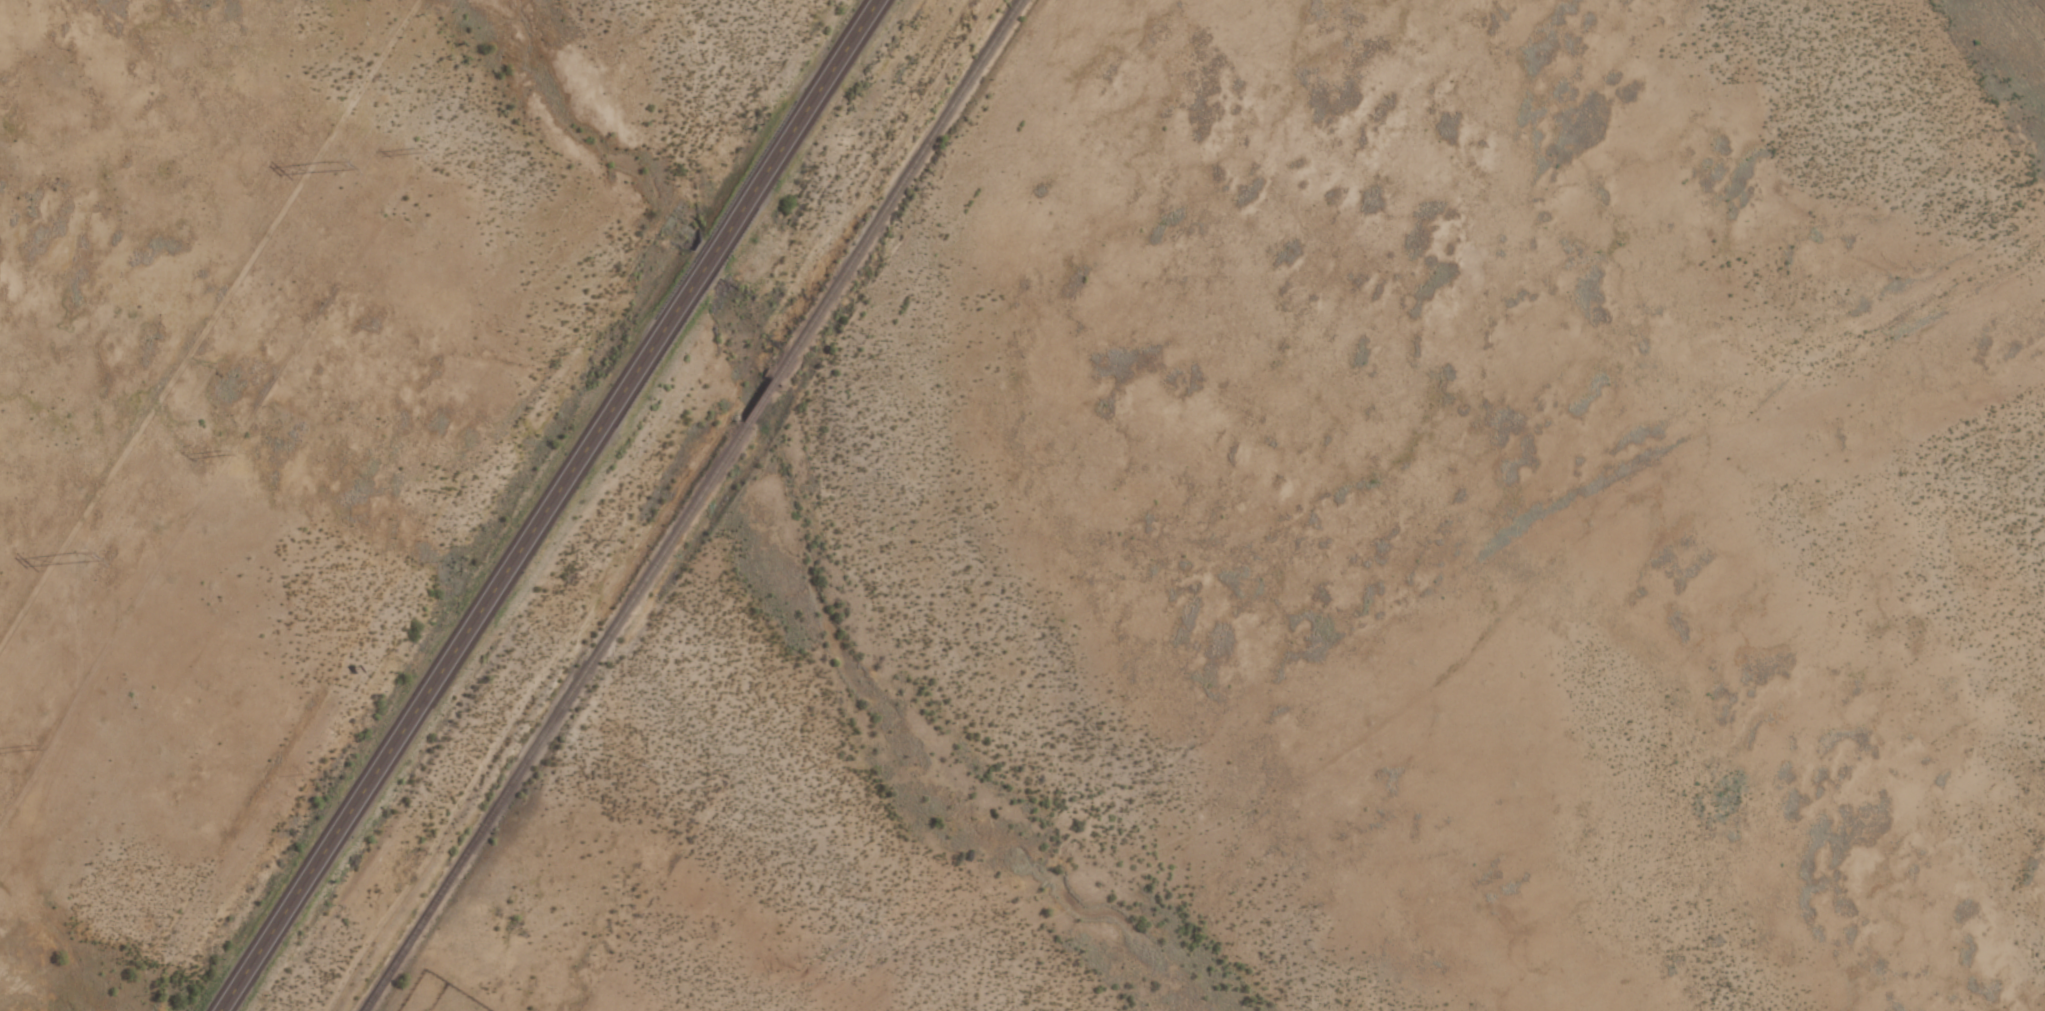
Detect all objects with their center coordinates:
power tower: (328, 159)
railway: (686, 504)
road: (547, 505)
power tower: (71, 550)
road: (1153, 725)

